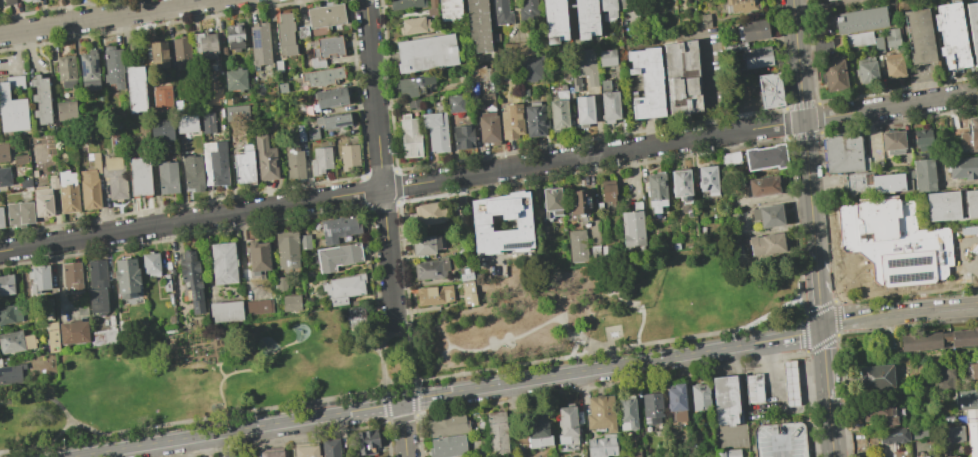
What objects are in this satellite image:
building: (33, 0)
building: (827, 0)
building: (7, 2)
building: (432, 3)
building: (625, 3)
building: (406, 4)
building: (742, 5)
building: (527, 9)
building: (449, 10)
building: (607, 10)
building: (501, 12)
building: (325, 14)
road: (106, 16)
road: (570, 18)
building: (585, 18)
building: (554, 20)
building: (704, 20)
building: (861, 20)
building: (478, 24)
building: (413, 25)
building: (973, 28)
building: (751, 29)
building: (302, 32)
building: (285, 34)
building: (951, 35)
building: (919, 36)
building: (234, 37)
building: (893, 38)
building: (859, 39)
building: (260, 44)
building: (205, 45)
building: (879, 45)
building: (181, 50)
building: (324, 50)
building: (157, 52)
building: (425, 52)
building: (607, 57)
building: (756, 57)
building: (585, 64)
rooftop solar panel: (95, 66)
building: (113, 66)
building: (280, 66)
building: (894, 66)
building: (531, 68)
rooftop solar panel: (82, 69)
building: (89, 70)
building: (66, 71)
building: (867, 71)
building: (835, 73)
building: (322, 76)
building: (681, 77)
building: (234, 79)
building: (646, 82)
road: (712, 84)
building: (415, 85)
building: (135, 89)
building: (769, 90)
building: (162, 96)
building: (330, 97)
building: (41, 99)
building: (488, 101)
building: (608, 102)
building: (413, 103)
building: (455, 103)
building: (12, 105)
building: (584, 110)
building: (66, 111)
building: (558, 112)
building: (236, 113)
building: (535, 119)
building: (332, 120)
building: (511, 120)
building: (207, 122)
building: (186, 123)
road: (804, 124)
building: (954, 125)
building: (488, 128)
building: (161, 129)
building: (436, 130)
building: (300, 133)
building: (311, 133)
building: (410, 136)
building: (463, 137)
building: (970, 138)
building: (923, 140)
building: (893, 142)
building: (3, 153)
building: (845, 154)
building: (349, 156)
building: (764, 157)
building: (265, 158)
building: (729, 158)
building: (20, 159)
road: (380, 159)
building: (293, 160)
building: (320, 160)
building: (218, 164)
building: (244, 165)
building: (963, 168)
road: (489, 171)
building: (192, 172)
building: (925, 175)
building: (4, 176)
building: (139, 176)
building: (167, 177)
building: (114, 178)
building: (707, 179)
building: (52, 182)
building: (680, 182)
building: (24, 183)
building: (90, 183)
building: (875, 183)
building: (763, 186)
building: (655, 191)
building: (67, 192)
building: (608, 193)
building: (552, 200)
building: (42, 201)
building: (578, 203)
building: (971, 203)
building: (943, 206)
building: (432, 212)
building: (19, 214)
building: (766, 215)
building: (1, 218)
building: (480, 224)
building: (338, 228)
building: (632, 228)
rooftop solar panel: (325, 231)
building: (304, 241)
building: (893, 242)
building: (425, 244)
building: (766, 244)
rooftop solar panel: (515, 245)
building: (577, 245)
building: (287, 249)
building: (604, 250)
road: (961, 251)
building: (594, 252)
parking lot: (967, 252)
building: (258, 255)
building: (337, 256)
building: (223, 263)
rooftop solar panel: (132, 264)
building: (150, 264)
road: (853, 267)
building: (430, 268)
street lamp: (841, 276)
road: (853, 276)
building: (71, 277)
building: (126, 277)
building: (38, 279)
building: (191, 281)
street lamp: (848, 282)
building: (281, 283)
building: (6, 285)
building: (96, 285)
building: (466, 285)
road: (831, 286)
building: (343, 288)
road: (818, 288)
rooftop solar panel: (196, 295)
building: (434, 295)
rooftop solar panel: (133, 296)
building: (291, 303)
building: (259, 306)
building: (225, 310)
road: (899, 310)
building: (10, 313)
building: (356, 319)
road: (394, 320)
traffic signals: (822, 326)
building: (73, 332)
building: (52, 337)
rooftop solar panel: (13, 338)
building: (938, 340)
building: (15, 341)
park: (395, 348)
road: (825, 363)
road: (222, 369)
building: (972, 370)
road: (238, 372)
building: (10, 374)
road: (452, 375)
building: (879, 378)
building: (945, 382)
building: (793, 383)
road: (779, 385)
building: (757, 388)
road: (447, 393)
building: (699, 397)
road: (742, 399)
building: (725, 400)
building: (967, 401)
road: (15, 402)
road: (57, 402)
building: (676, 402)
building: (650, 407)
building: (600, 413)
building: (885, 413)
building: (626, 414)
building: (448, 424)
building: (566, 425)
building: (537, 428)
road: (403, 429)
road: (831, 429)
building: (920, 431)
building: (973, 431)
building: (494, 432)
building: (955, 434)
building: (896, 436)
building: (780, 439)
parking lot: (780, 440)
building: (366, 442)
road: (40, 444)
building: (447, 446)
building: (601, 446)
building: (330, 448)
road: (781, 449)
building: (304, 450)
building: (271, 452)
building: (727, 452)
building: (631, 453)
building: (924, 456)
building: (948, 456)

